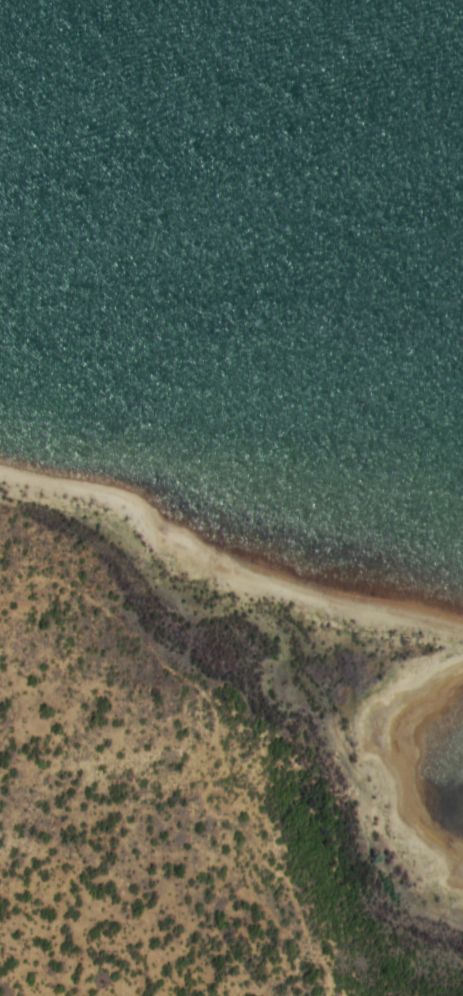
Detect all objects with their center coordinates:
road: (37, 759)
road: (21, 938)

